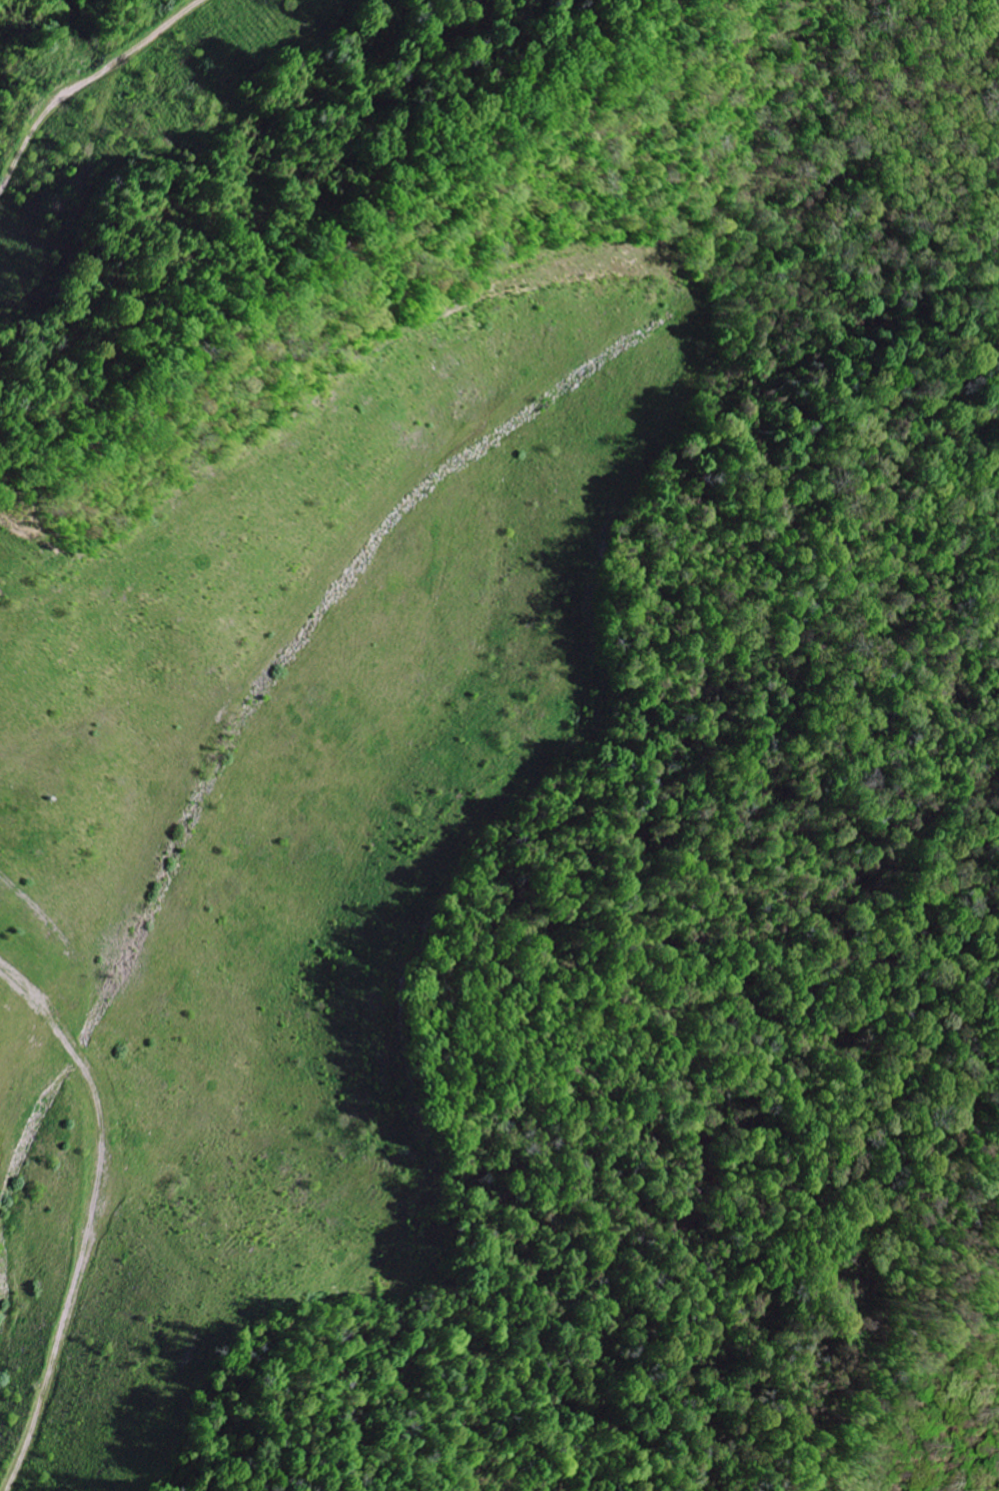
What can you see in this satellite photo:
road: (95, 108)

